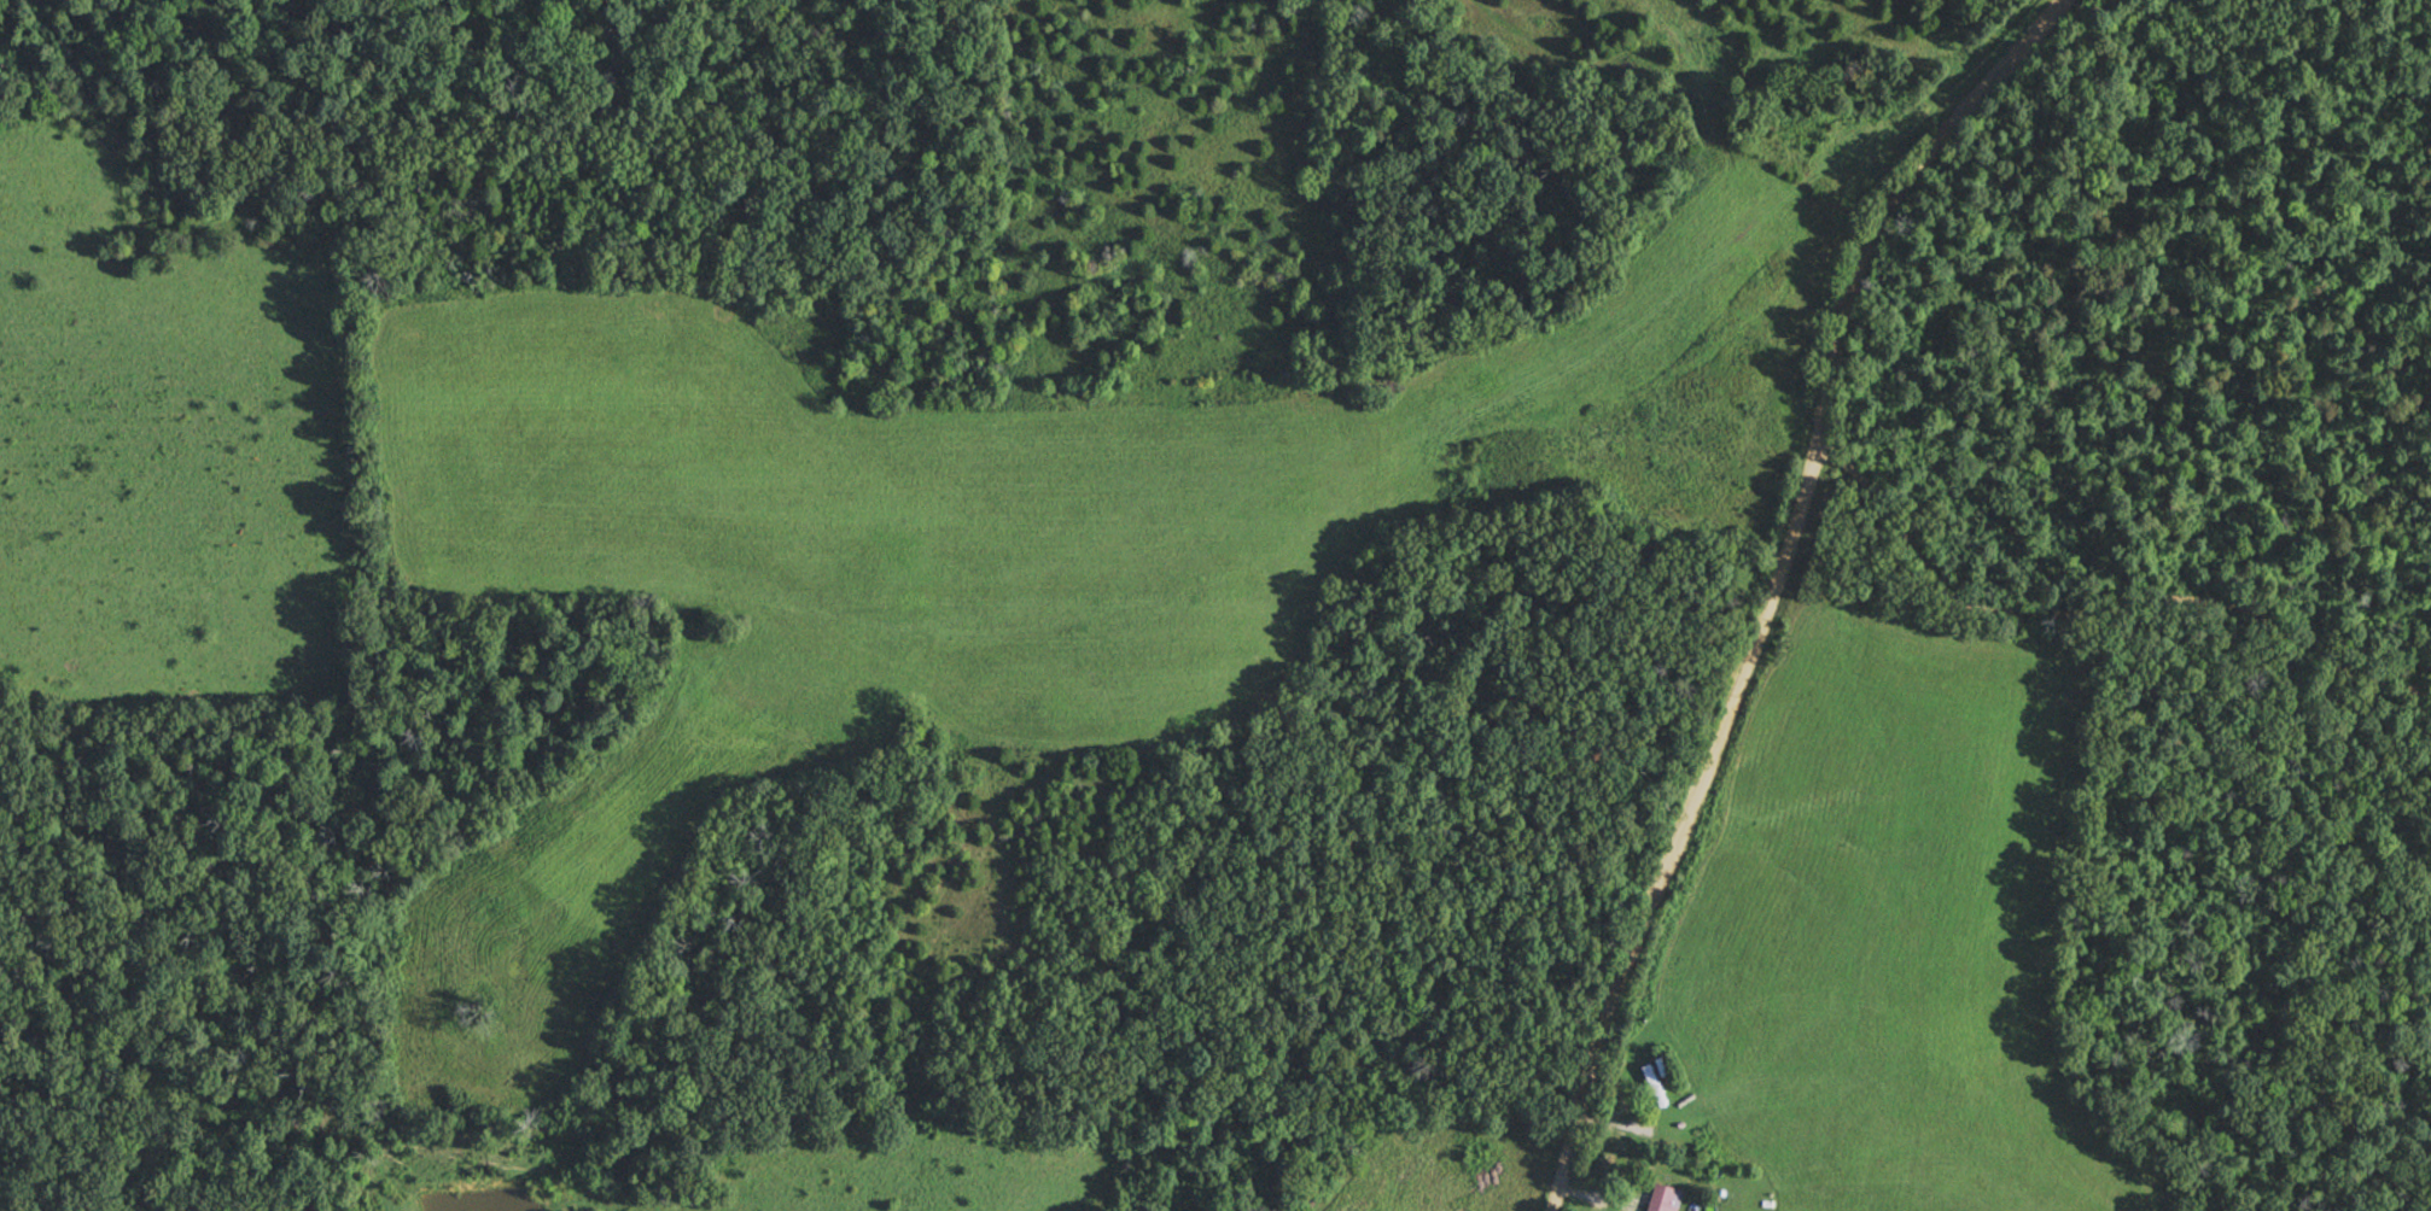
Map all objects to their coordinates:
road: (1777, 584)
road: (2123, 587)
building: (1666, 1198)

